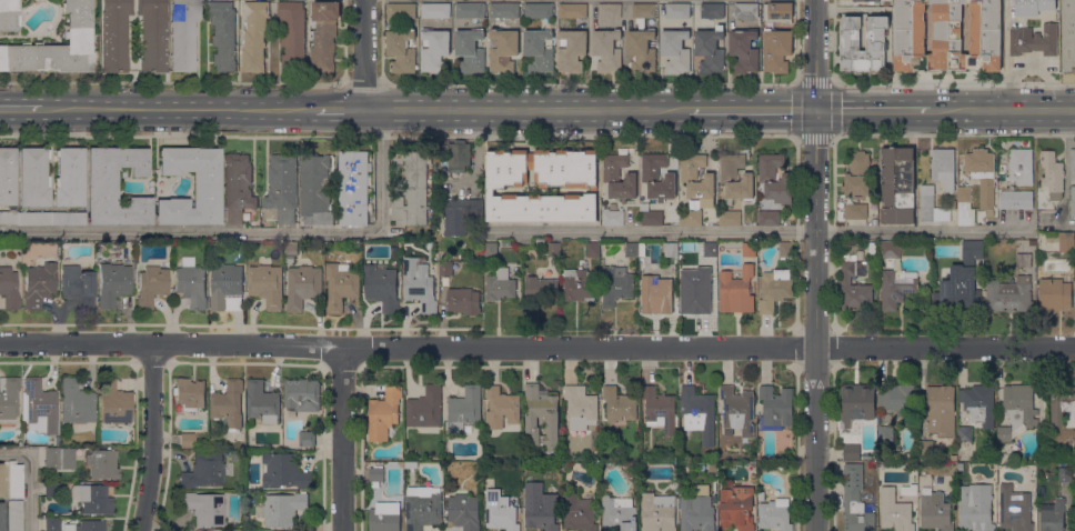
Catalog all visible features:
building: (865, 0)
building: (1033, 7)
building: (401, 10)
building: (435, 10)
building: (469, 10)
building: (504, 10)
building: (539, 10)
building: (572, 10)
building: (610, 10)
building: (643, 10)
building: (677, 10)
building: (712, 10)
building: (745, 10)
building: (778, 11)
building: (8, 14)
building: (731, 21)
building: (114, 34)
building: (153, 34)
building: (183, 34)
building: (292, 34)
building: (323, 34)
building: (947, 34)
building: (1067, 34)
building: (222, 36)
building: (254, 36)
building: (863, 38)
building: (1034, 40)
building: (57, 46)
building: (876, 46)
building: (710, 49)
building: (776, 49)
building: (401, 50)
building: (434, 50)
building: (470, 50)
building: (503, 50)
building: (537, 50)
building: (606, 50)
building: (641, 50)
building: (675, 50)
building: (744, 50)
building: (572, 51)
road: (363, 56)
road: (1027, 69)
road: (831, 82)
road: (171, 83)
road: (363, 84)
road: (590, 84)
road: (873, 109)
road: (1003, 109)
road: (752, 110)
traffic signals: (815, 110)
road: (20, 111)
road: (179, 111)
road: (340, 111)
road: (526, 111)
road: (953, 132)
road: (399, 134)
building: (459, 157)
building: (1072, 164)
building: (1021, 166)
building: (943, 167)
road: (1065, 167)
building: (1052, 173)
building: (856, 174)
building: (982, 174)
building: (767, 176)
building: (7, 177)
building: (68, 177)
building: (619, 177)
building: (657, 177)
building: (32, 178)
building: (735, 178)
building: (541, 186)
building: (897, 186)
building: (114, 187)
building: (205, 187)
building: (238, 187)
building: (282, 187)
building: (352, 188)
building: (695, 188)
building: (315, 190)
building: (410, 190)
building: (1015, 199)
building: (1072, 202)
building: (953, 204)
building: (931, 206)
building: (964, 206)
building: (855, 211)
building: (460, 214)
building: (8, 217)
building: (612, 217)
building: (651, 217)
building: (68, 218)
building: (730, 218)
building: (768, 218)
building: (33, 219)
building: (269, 223)
road: (757, 231)
road: (248, 232)
building: (1052, 237)
building: (505, 242)
building: (685, 242)
building: (1032, 242)
building: (1066, 242)
building: (540, 243)
building: (429, 244)
building: (291, 248)
building: (710, 248)
building: (491, 249)
building: (554, 249)
building: (592, 249)
building: (632, 249)
building: (652, 249)
building: (749, 249)
building: (785, 249)
building: (890, 251)
building: (1074, 254)
building: (643, 259)
building: (1023, 259)
building: (290, 260)
building: (359, 260)
road: (815, 264)
building: (445, 269)
building: (962, 280)
building: (694, 283)
building: (39, 284)
building: (112, 284)
building: (225, 284)
building: (267, 284)
building: (419, 284)
building: (500, 284)
building: (579, 284)
building: (615, 284)
building: (191, 285)
building: (302, 285)
building: (341, 285)
building: (853, 285)
building: (78, 287)
building: (151, 287)
building: (381, 287)
building: (896, 287)
building: (9, 289)
building: (541, 289)
building: (736, 290)
building: (773, 291)
building: (1055, 293)
building: (656, 294)
building: (1009, 294)
building: (463, 300)
road: (536, 345)
road: (243, 363)
road: (727, 364)
road: (765, 364)
road: (211, 369)
road: (192, 372)
road: (736, 384)
building: (189, 393)
building: (301, 397)
building: (8, 399)
building: (898, 401)
building: (262, 402)
building: (76, 403)
building: (113, 403)
building: (229, 403)
building: (857, 403)
building: (978, 403)
building: (619, 404)
building: (1019, 404)
building: (40, 405)
building: (1063, 405)
building: (580, 407)
building: (425, 408)
building: (501, 408)
building: (775, 408)
building: (464, 409)
building: (660, 410)
building: (737, 410)
building: (941, 411)
building: (383, 413)
building: (697, 413)
building: (542, 414)
building: (878, 418)
building: (885, 433)
building: (965, 433)
building: (1004, 433)
road: (152, 437)
building: (307, 438)
road: (341, 438)
road: (328, 439)
building: (57, 440)
road: (165, 440)
building: (185, 440)
building: (23, 442)
building: (925, 450)
building: (851, 452)
building: (954, 458)
building: (58, 459)
building: (102, 464)
building: (960, 465)
building: (713, 467)
building: (203, 471)
building: (283, 471)
building: (1074, 471)
building: (1064, 474)
building: (375, 475)
road: (31, 478)
building: (1, 480)
building: (14, 481)
building: (489, 482)
building: (52, 490)
building: (92, 499)
building: (715, 499)
building: (855, 500)
building: (422, 507)
building: (281, 508)
building: (736, 508)
building: (975, 508)
building: (204, 509)
building: (1014, 509)
building: (696, 510)
building: (935, 510)
building: (464, 511)
building: (500, 511)
building: (659, 511)
building: (895, 511)
building: (579, 512)
building: (541, 513)
building: (619, 513)
building: (775, 514)
building: (1052, 515)
building: (1, 517)
building: (16, 517)
building: (384, 517)
building: (1074, 520)
building: (52, 524)
building: (90, 525)
road: (331, 528)
road: (735, 528)
road: (425, 529)
road: (498, 529)
road: (694, 529)
road: (771, 529)
road: (936, 529)
road: (1015, 530)

